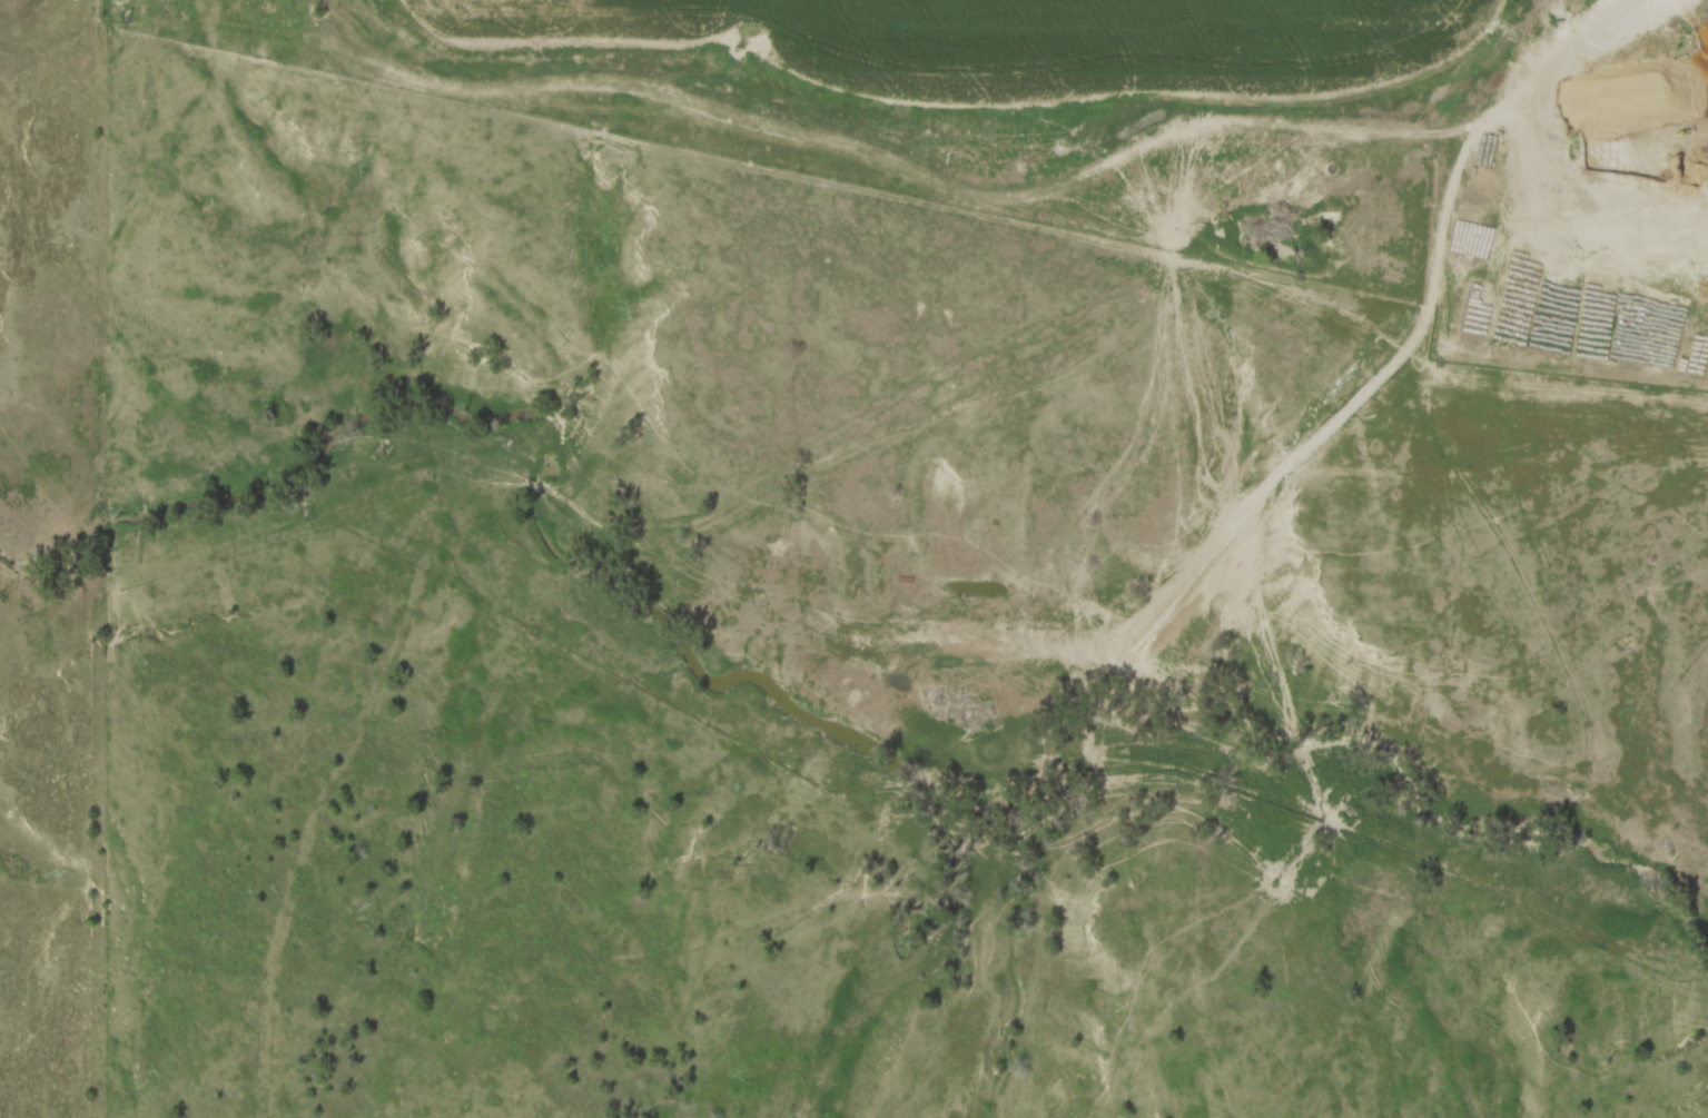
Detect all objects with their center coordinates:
road: (1607, 38)

